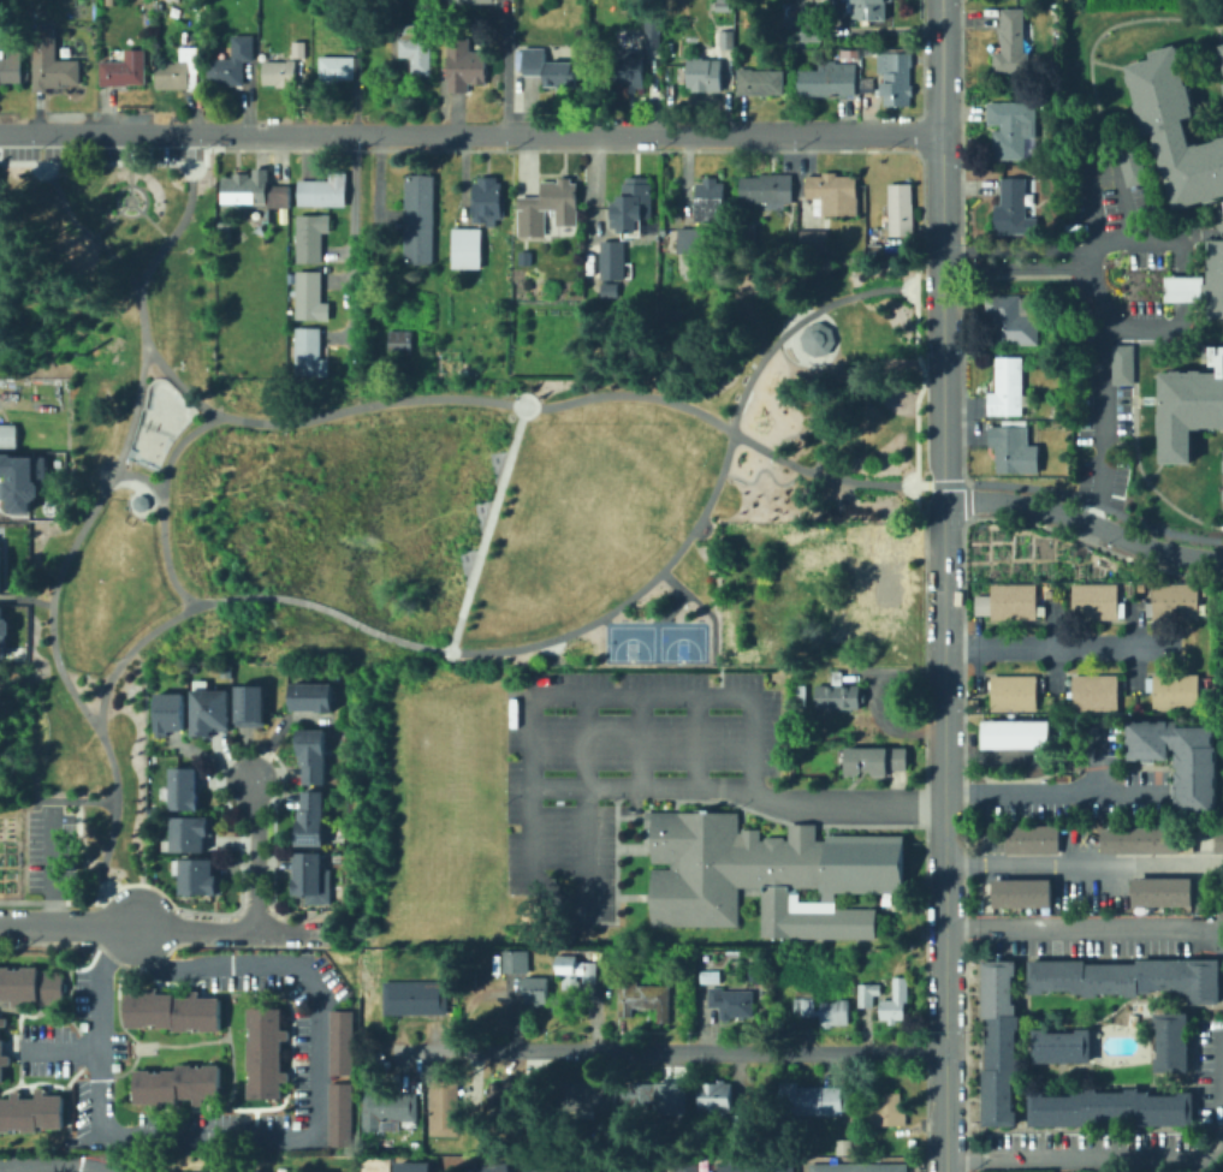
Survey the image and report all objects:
building: (473, 1)
building: (394, 5)
building: (725, 6)
building: (158, 7)
building: (868, 8)
building: (653, 34)
building: (811, 34)
building: (267, 38)
building: (728, 40)
building: (1014, 43)
building: (1222, 48)
building: (298, 49)
building: (416, 52)
building: (789, 53)
building: (52, 64)
building: (231, 64)
building: (547, 65)
building: (465, 66)
road: (505, 67)
building: (11, 69)
building: (340, 69)
building: (125, 70)
building: (630, 70)
building: (180, 72)
building: (280, 72)
building: (705, 75)
building: (897, 79)
building: (829, 81)
building: (760, 82)
building: (1015, 90)
building: (1176, 129)
building: (1014, 130)
road: (471, 133)
parking lot: (103, 153)
road: (101, 165)
building: (1133, 166)
road: (139, 189)
building: (321, 189)
building: (768, 191)
building: (256, 192)
building: (833, 194)
building: (416, 196)
building: (489, 201)
building: (711, 201)
building: (633, 203)
building: (550, 207)
road: (137, 208)
building: (1016, 208)
road: (1096, 213)
building: (900, 215)
road: (109, 218)
road: (182, 218)
building: (284, 218)
building: (309, 234)
building: (744, 237)
building: (416, 239)
building: (690, 240)
building: (814, 240)
road: (1153, 240)
road: (351, 243)
building: (468, 248)
road: (1180, 257)
building: (612, 260)
street lamp: (149, 280)
building: (1204, 281)
building: (612, 290)
road: (1182, 290)
building: (307, 295)
building: (488, 299)
building: (1061, 301)
street lamp: (850, 302)
building: (1011, 320)
road: (1103, 321)
road: (798, 326)
road: (1152, 327)
building: (814, 338)
street lamp: (156, 340)
building: (398, 345)
building: (307, 351)
building: (1123, 364)
street lamp: (752, 365)
road: (809, 373)
building: (464, 374)
building: (1009, 388)
street lamp: (588, 391)
street lamp: (660, 392)
street lamp: (506, 395)
road: (449, 397)
building: (1188, 409)
building: (1062, 410)
road: (812, 416)
parking lot: (933, 417)
park: (156, 423)
building: (6, 434)
road: (789, 434)
building: (1014, 447)
road: (720, 471)
road: (141, 476)
road: (839, 477)
building: (20, 478)
road: (915, 478)
road: (130, 483)
road: (782, 484)
road: (939, 486)
street lamp: (97, 487)
park: (385, 487)
building: (138, 501)
road: (1094, 502)
road: (161, 504)
building: (1221, 506)
street lamp: (707, 518)
road: (84, 522)
road: (1085, 522)
road: (486, 528)
street lamp: (156, 537)
building: (879, 549)
street lamp: (60, 552)
road: (945, 585)
building: (886, 596)
road: (24, 597)
building: (1085, 600)
building: (998, 601)
building: (1027, 601)
building: (1110, 601)
building: (1164, 601)
building: (1189, 601)
street lamp: (177, 602)
road: (671, 606)
road: (703, 608)
road: (332, 611)
road: (602, 619)
building: (2, 631)
street lamp: (43, 633)
building: (836, 638)
street lamp: (566, 642)
park: (654, 642)
road: (1061, 644)
road: (133, 646)
road: (445, 650)
street lamp: (113, 660)
road: (718, 678)
building: (1189, 691)
building: (1004, 692)
building: (1027, 692)
building: (1086, 692)
building: (1109, 692)
building: (1165, 692)
building: (801, 695)
building: (314, 697)
building: (839, 697)
road: (878, 701)
building: (251, 706)
building: (210, 712)
building: (168, 713)
street lamp: (79, 718)
road: (582, 722)
building: (857, 732)
building: (1014, 733)
road: (637, 740)
road: (696, 740)
building: (314, 755)
building: (1179, 760)
building: (875, 761)
road: (750, 772)
parking lot: (610, 773)
building: (184, 789)
road: (1053, 791)
street lamp: (123, 803)
road: (845, 804)
building: (313, 820)
building: (191, 833)
building: (1029, 838)
building: (1138, 838)
building: (1219, 838)
parking lot: (51, 851)
street lamp: (97, 851)
road: (255, 856)
road: (51, 861)
road: (1084, 862)
building: (309, 874)
building: (770, 875)
building: (200, 877)
building: (1160, 891)
building: (1020, 892)
road: (11, 902)
road: (51, 902)
road: (66, 923)
road: (1084, 927)
road: (230, 932)
road: (1213, 936)
building: (706, 956)
building: (517, 962)
building: (577, 971)
building: (711, 977)
building: (1122, 980)
building: (30, 984)
building: (535, 990)
building: (417, 997)
building: (886, 998)
building: (645, 1000)
building: (732, 1003)
building: (821, 1009)
building: (170, 1010)
building: (1, 1021)
building: (0, 1029)
building: (339, 1040)
building: (997, 1041)
building: (1170, 1041)
building: (1059, 1043)
road: (55, 1049)
road: (673, 1049)
building: (263, 1051)
building: (2, 1061)
building: (176, 1083)
building: (503, 1094)
building: (642, 1096)
building: (669, 1096)
building: (581, 1097)
building: (809, 1101)
building: (446, 1105)
building: (724, 1106)
building: (1110, 1107)
building: (376, 1109)
building: (889, 1111)
building: (29, 1112)
building: (338, 1113)
road: (283, 1137)
building: (859, 1144)
building: (844, 1147)
road: (1118, 1156)
road: (54, 1165)
building: (684, 1166)
building: (753, 1166)
building: (414, 1167)
building: (497, 1168)
building: (546, 1168)
building: (629, 1168)
building: (859, 1168)
building: (222, 1171)
building: (254, 1171)
building: (576, 1171)
building: (599, 1171)

